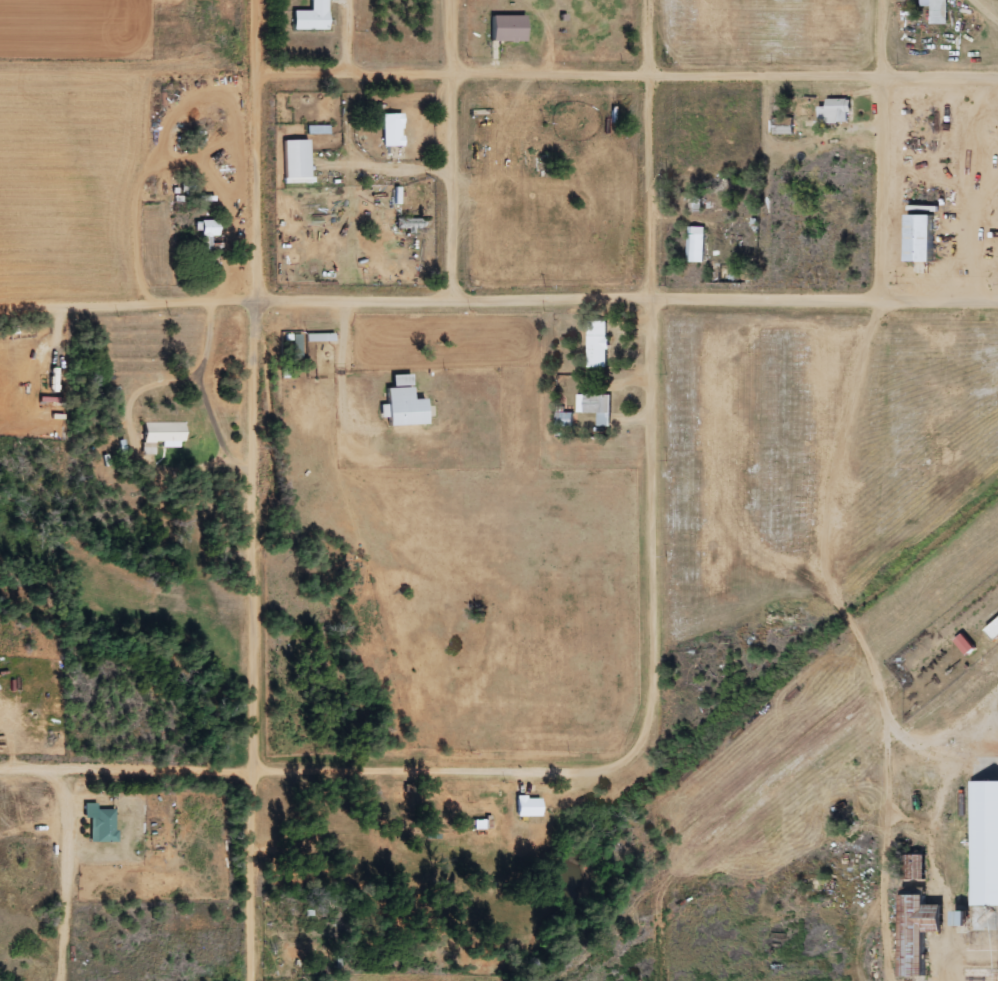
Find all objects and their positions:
building: (937, 10)
building: (311, 16)
building: (508, 28)
road: (628, 77)
building: (835, 111)
building: (783, 126)
building: (392, 130)
road: (881, 148)
road: (458, 150)
road: (656, 150)
road: (260, 151)
building: (295, 161)
building: (206, 231)
building: (919, 238)
building: (695, 245)
road: (498, 300)
building: (598, 344)
building: (402, 403)
building: (596, 408)
building: (165, 434)
road: (652, 535)
building: (994, 630)
road: (257, 641)
building: (964, 645)
road: (316, 768)
road: (974, 771)
building: (527, 806)
building: (101, 823)
building: (984, 842)
building: (915, 867)
road: (66, 875)
building: (916, 932)

